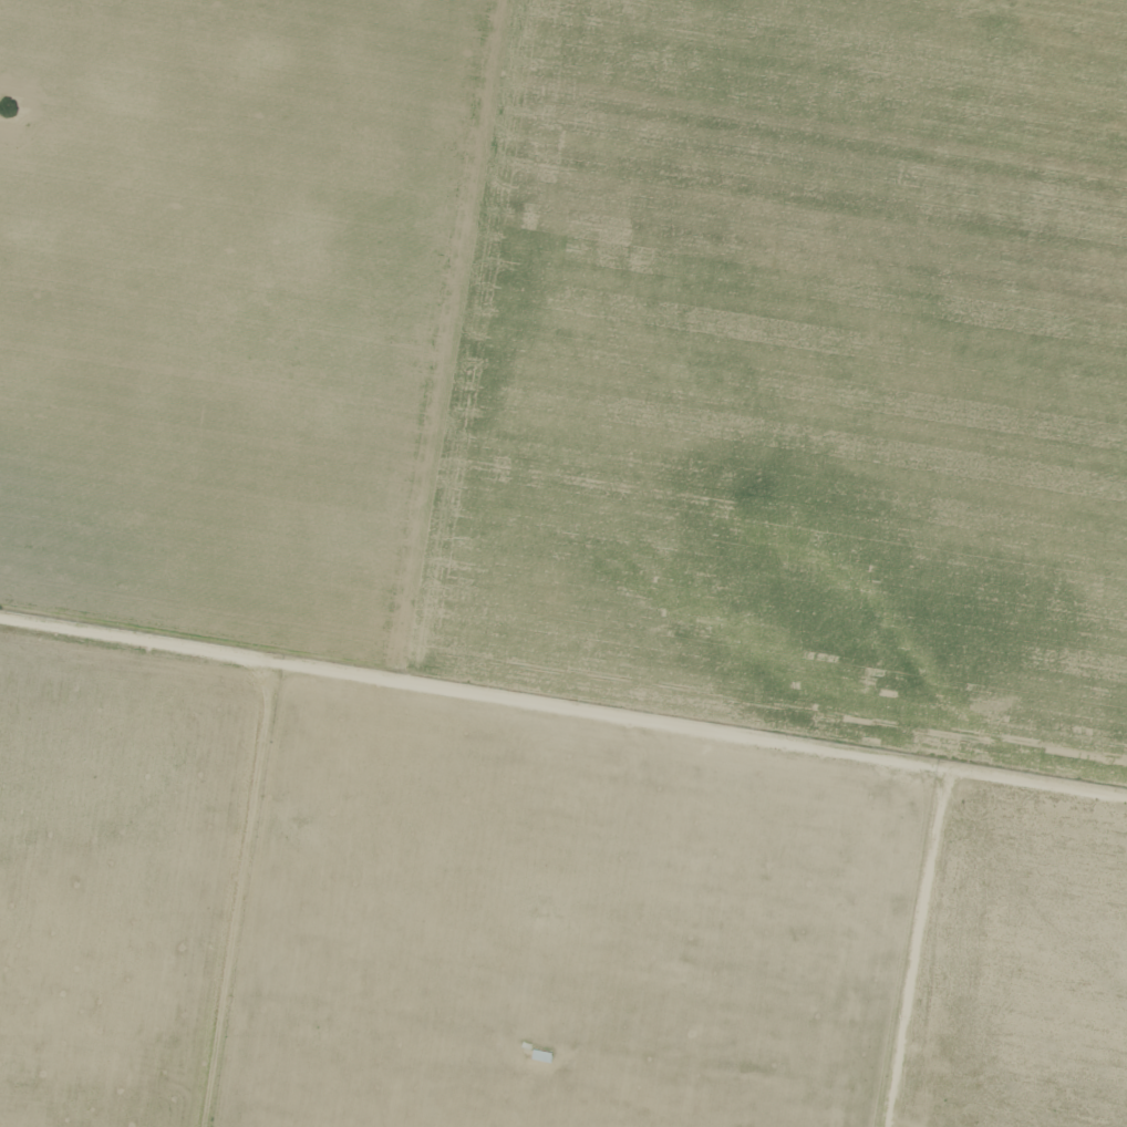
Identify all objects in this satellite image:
road: (434, 339)
road: (562, 707)

